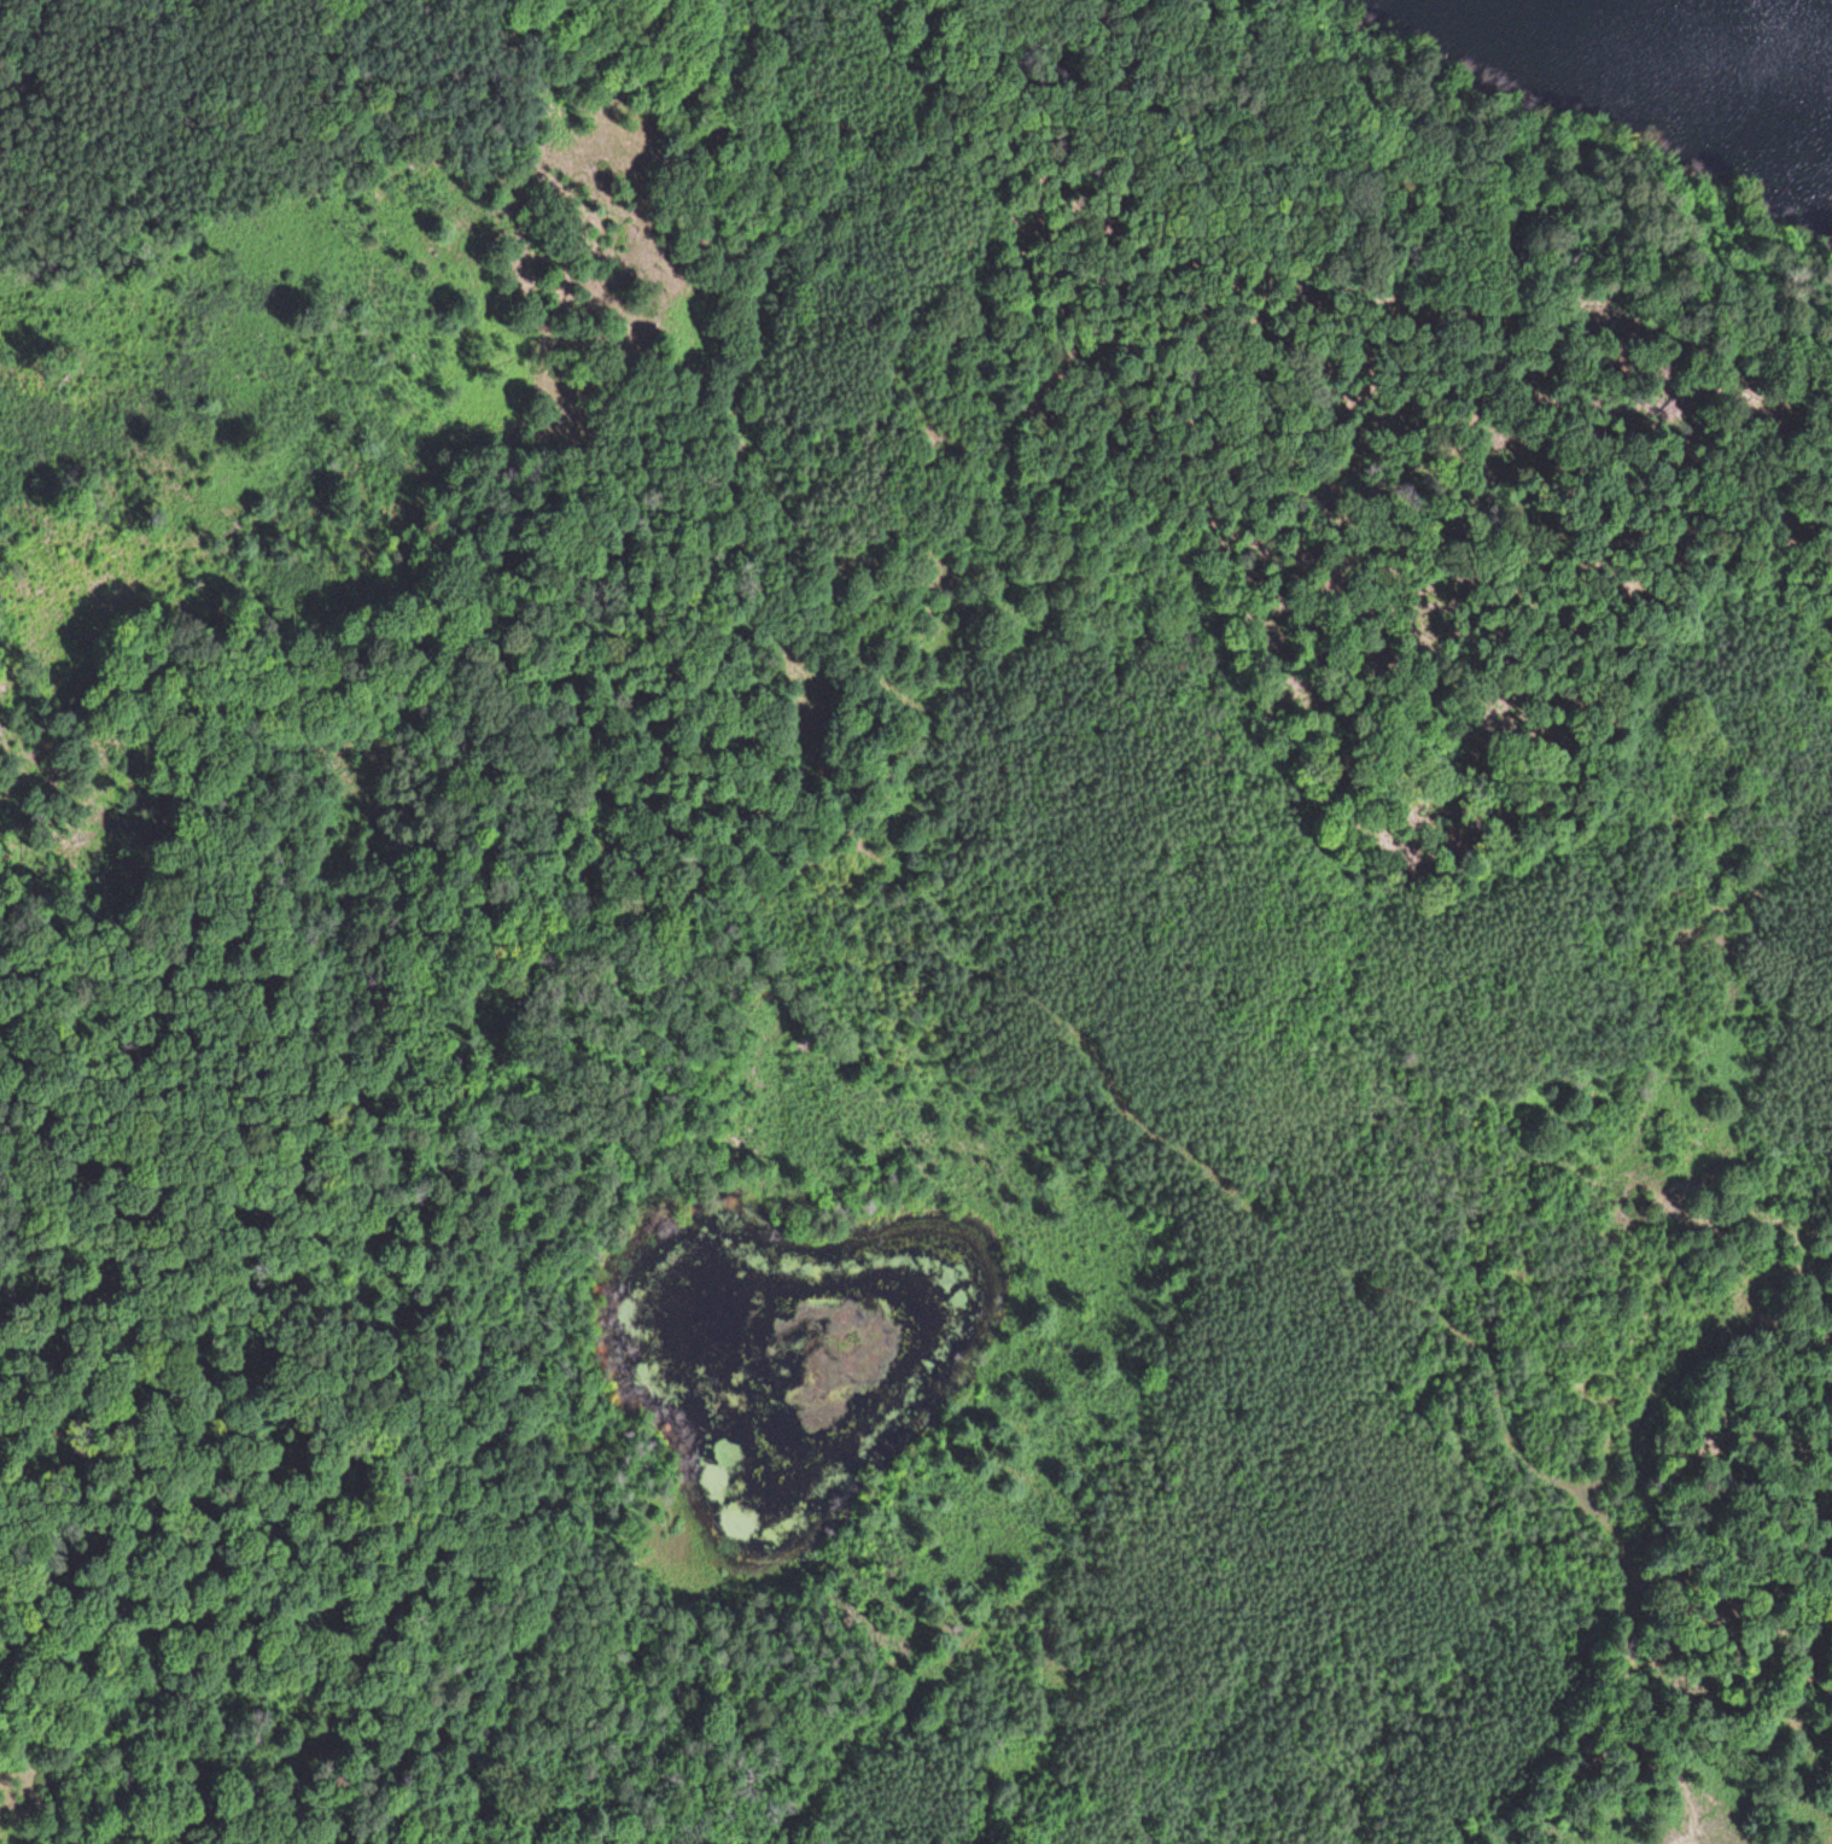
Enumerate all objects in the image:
road: (1708, 1832)

